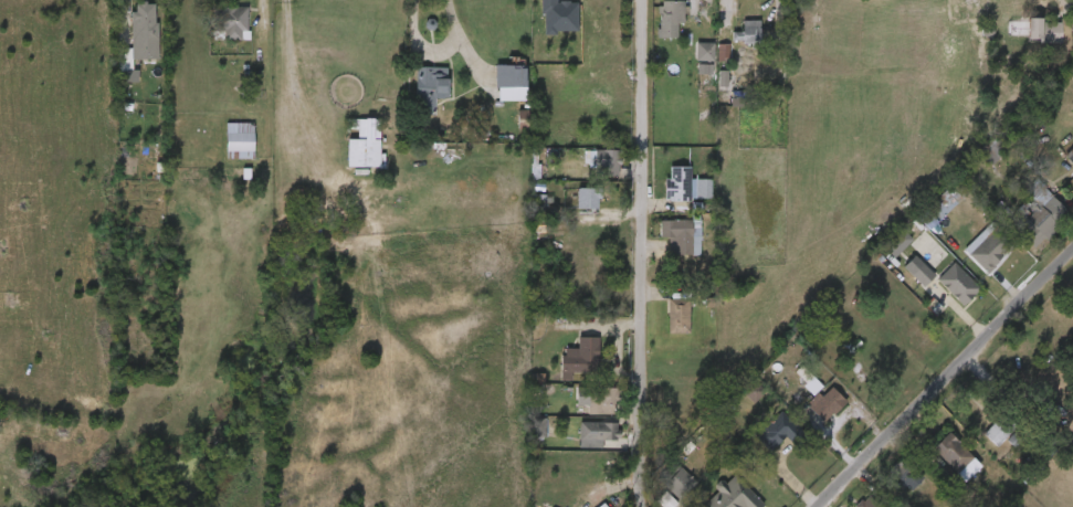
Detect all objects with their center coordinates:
building: (672, 17)
building: (235, 21)
building: (140, 23)
building: (652, 27)
building: (218, 31)
building: (1046, 31)
building: (747, 34)
building: (1025, 40)
building: (730, 41)
building: (126, 42)
road: (435, 56)
building: (686, 61)
building: (705, 61)
building: (516, 74)
building: (686, 77)
building: (431, 87)
building: (493, 92)
building: (412, 96)
building: (506, 127)
building: (372, 129)
building: (241, 140)
building: (222, 147)
building: (993, 151)
building: (348, 156)
building: (1070, 156)
building: (974, 158)
building: (606, 163)
building: (589, 171)
building: (677, 184)
building: (660, 193)
building: (582, 197)
building: (570, 207)
building: (1027, 212)
building: (925, 214)
building: (680, 237)
building: (664, 244)
building: (990, 245)
building: (881, 252)
road: (639, 253)
building: (969, 257)
building: (901, 279)
building: (940, 293)
building: (678, 316)
building: (661, 325)
building: (579, 358)
road: (930, 369)
building: (795, 393)
building: (600, 400)
building: (830, 404)
building: (808, 412)
building: (999, 429)
building: (782, 432)
building: (596, 433)
building: (522, 435)
building: (761, 441)
building: (579, 442)
building: (982, 443)
building: (954, 455)
building: (934, 461)
building: (905, 473)
building: (675, 478)
building: (888, 483)
building: (660, 489)
building: (732, 495)
building: (866, 503)
building: (848, 506)

